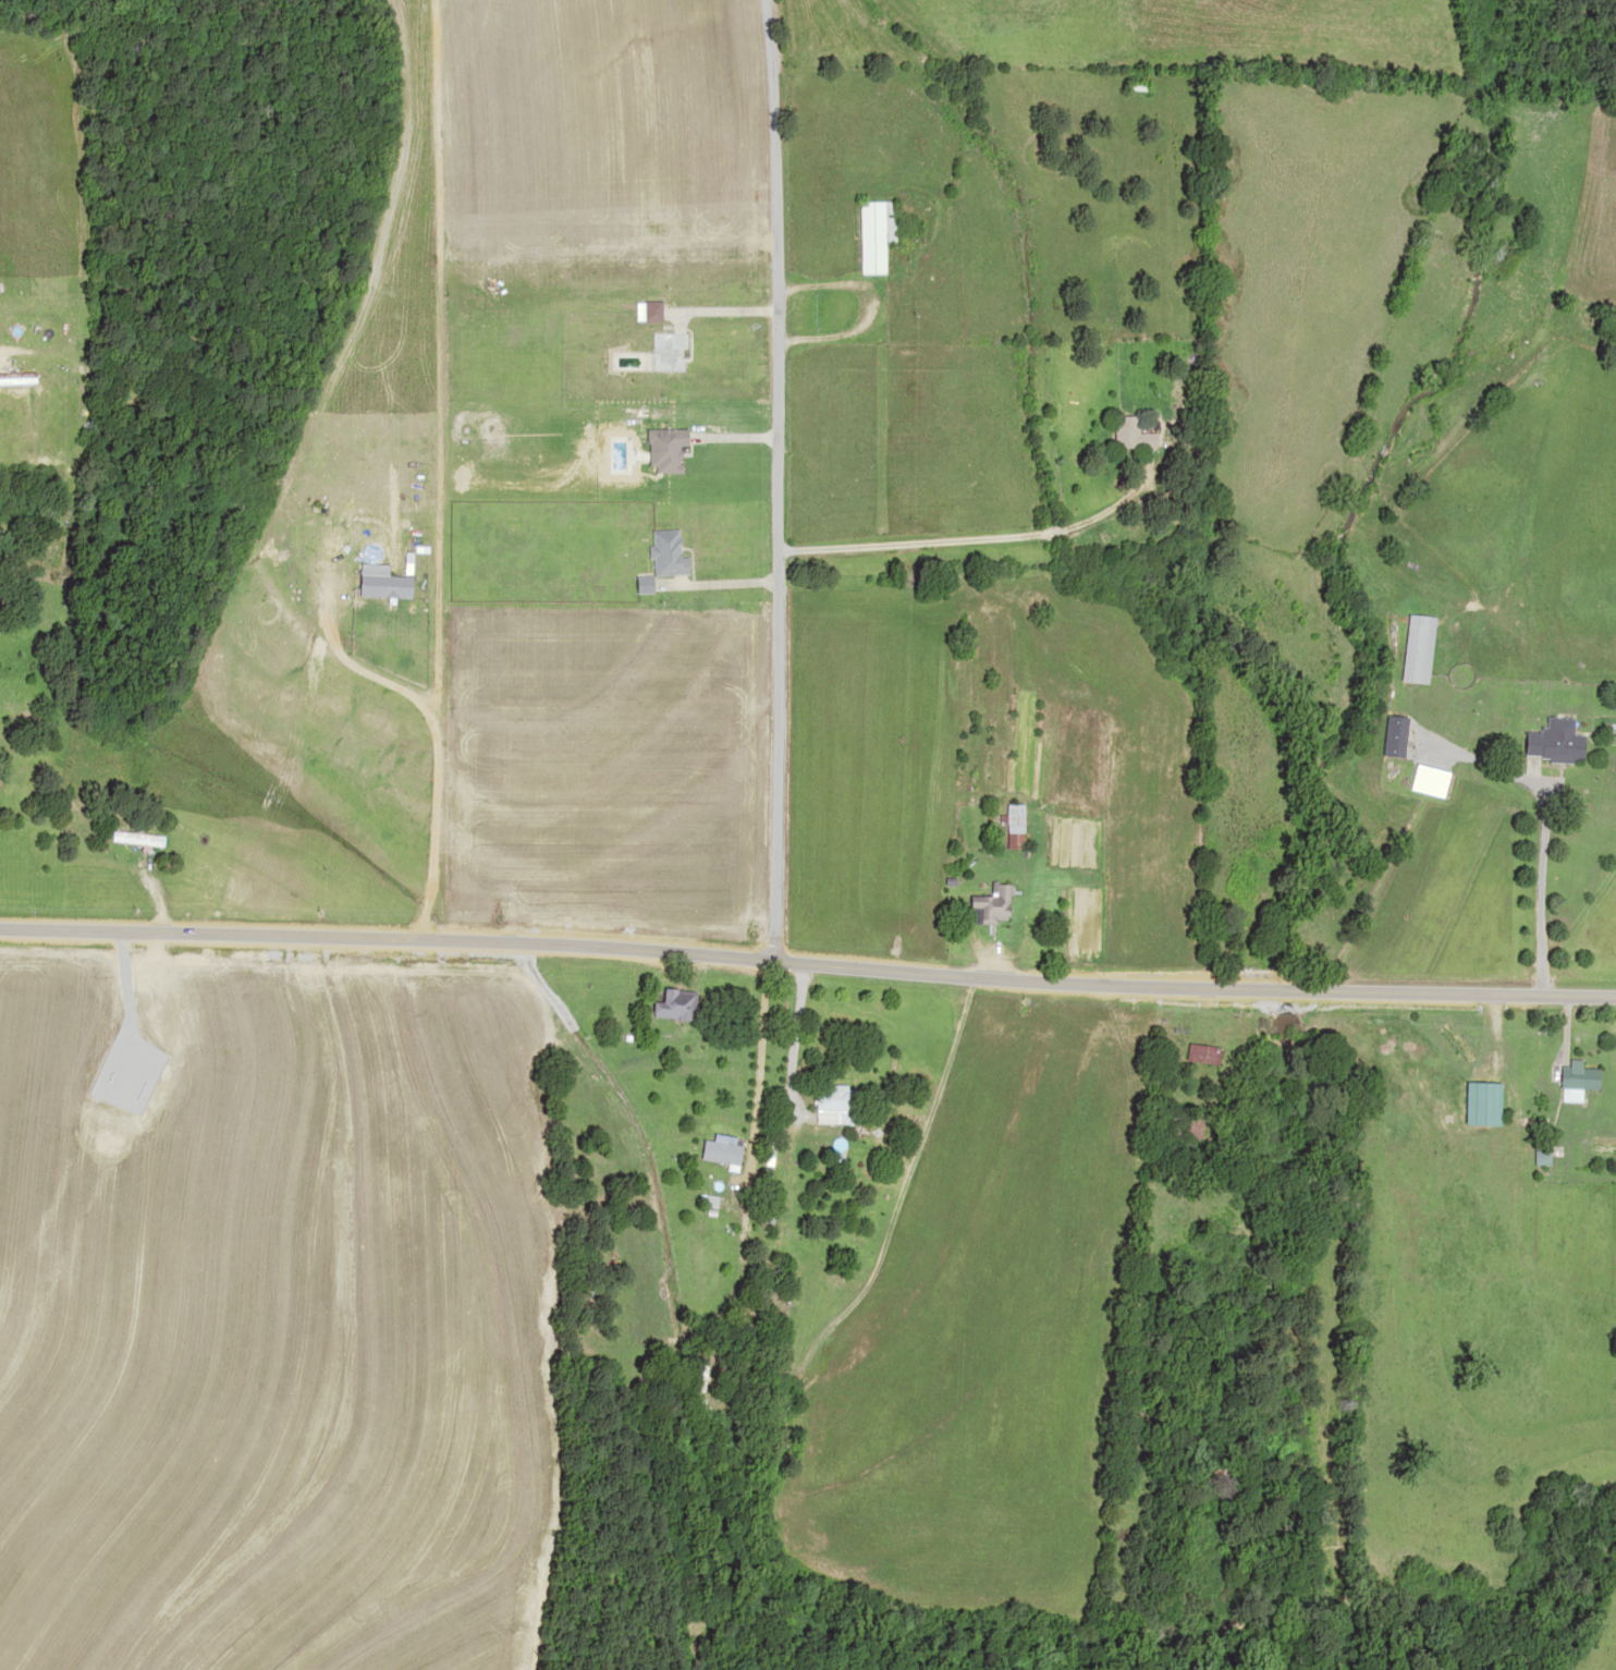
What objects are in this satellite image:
building: (1128, 86)
building: (867, 235)
building: (1122, 436)
building: (660, 451)
road: (778, 479)
building: (662, 554)
building: (1415, 649)
building: (1393, 736)
building: (1548, 742)
building: (1425, 781)
building: (1005, 824)
building: (133, 839)
building: (980, 903)
road: (808, 959)
building: (672, 1004)
building: (1198, 1053)
building: (1572, 1076)
building: (1473, 1102)
building: (831, 1105)
building: (1183, 1125)
building: (1534, 1150)

